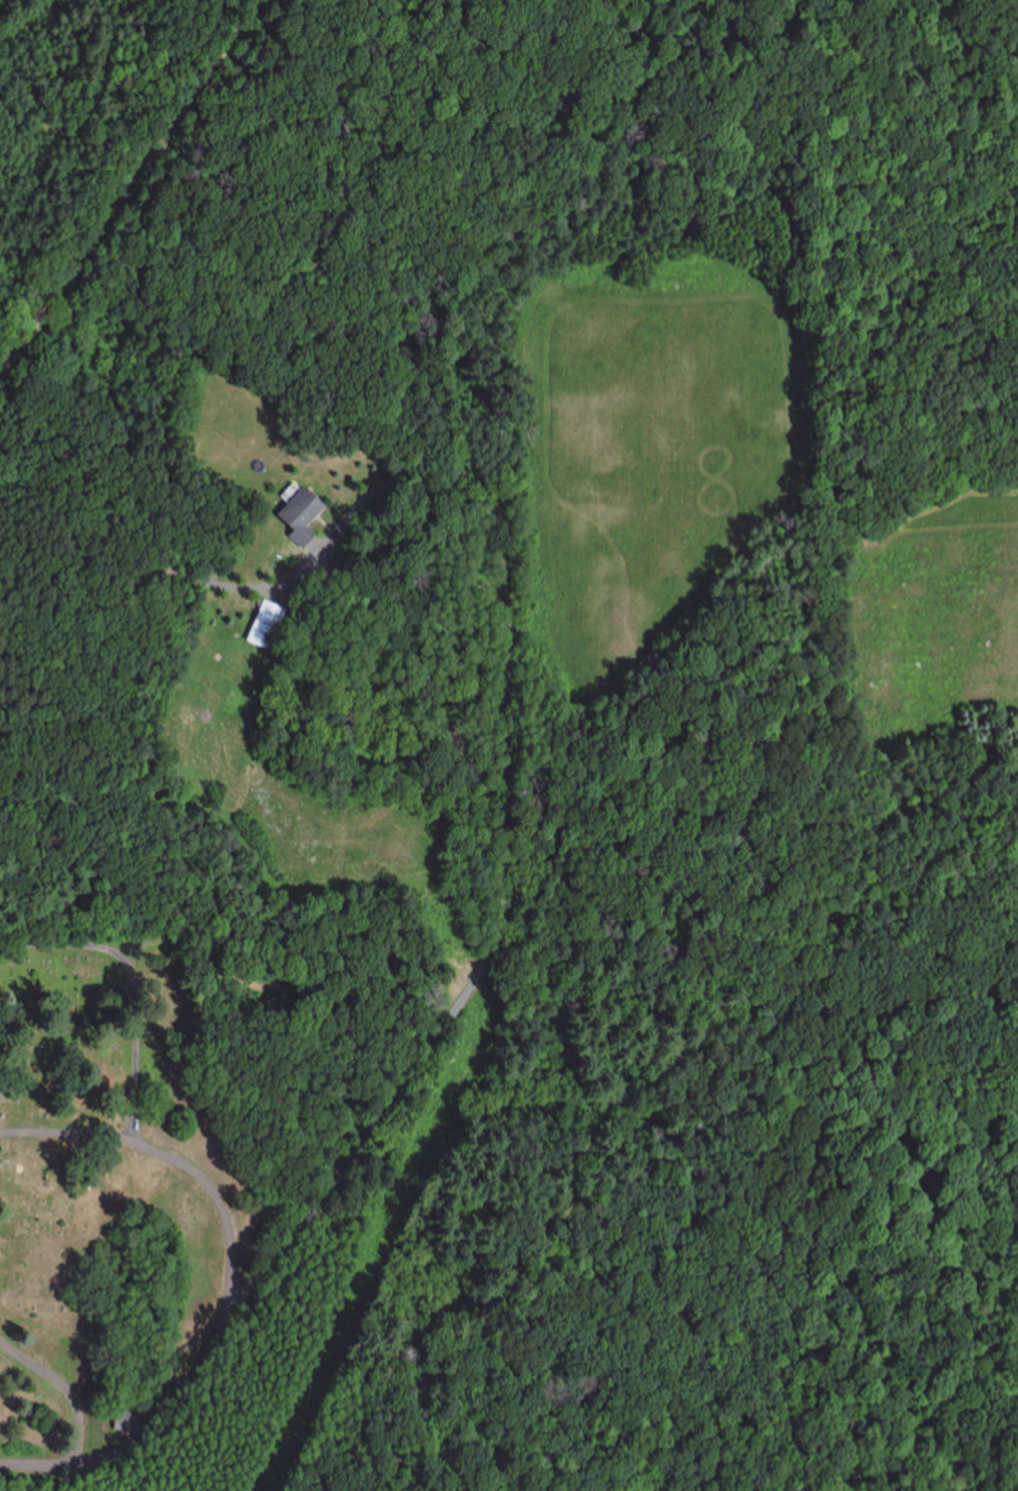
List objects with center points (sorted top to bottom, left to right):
road: (264, 1)
road: (62, 117)
road: (79, 150)
road: (129, 189)
road: (285, 212)
road: (378, 217)
road: (29, 354)
road: (27, 367)
road: (23, 410)
crop: (650, 448)
building: (297, 515)
road: (26, 525)
building: (263, 626)
road: (16, 728)
road: (173, 879)
park: (198, 1155)
road: (217, 1340)
building: (121, 1420)

